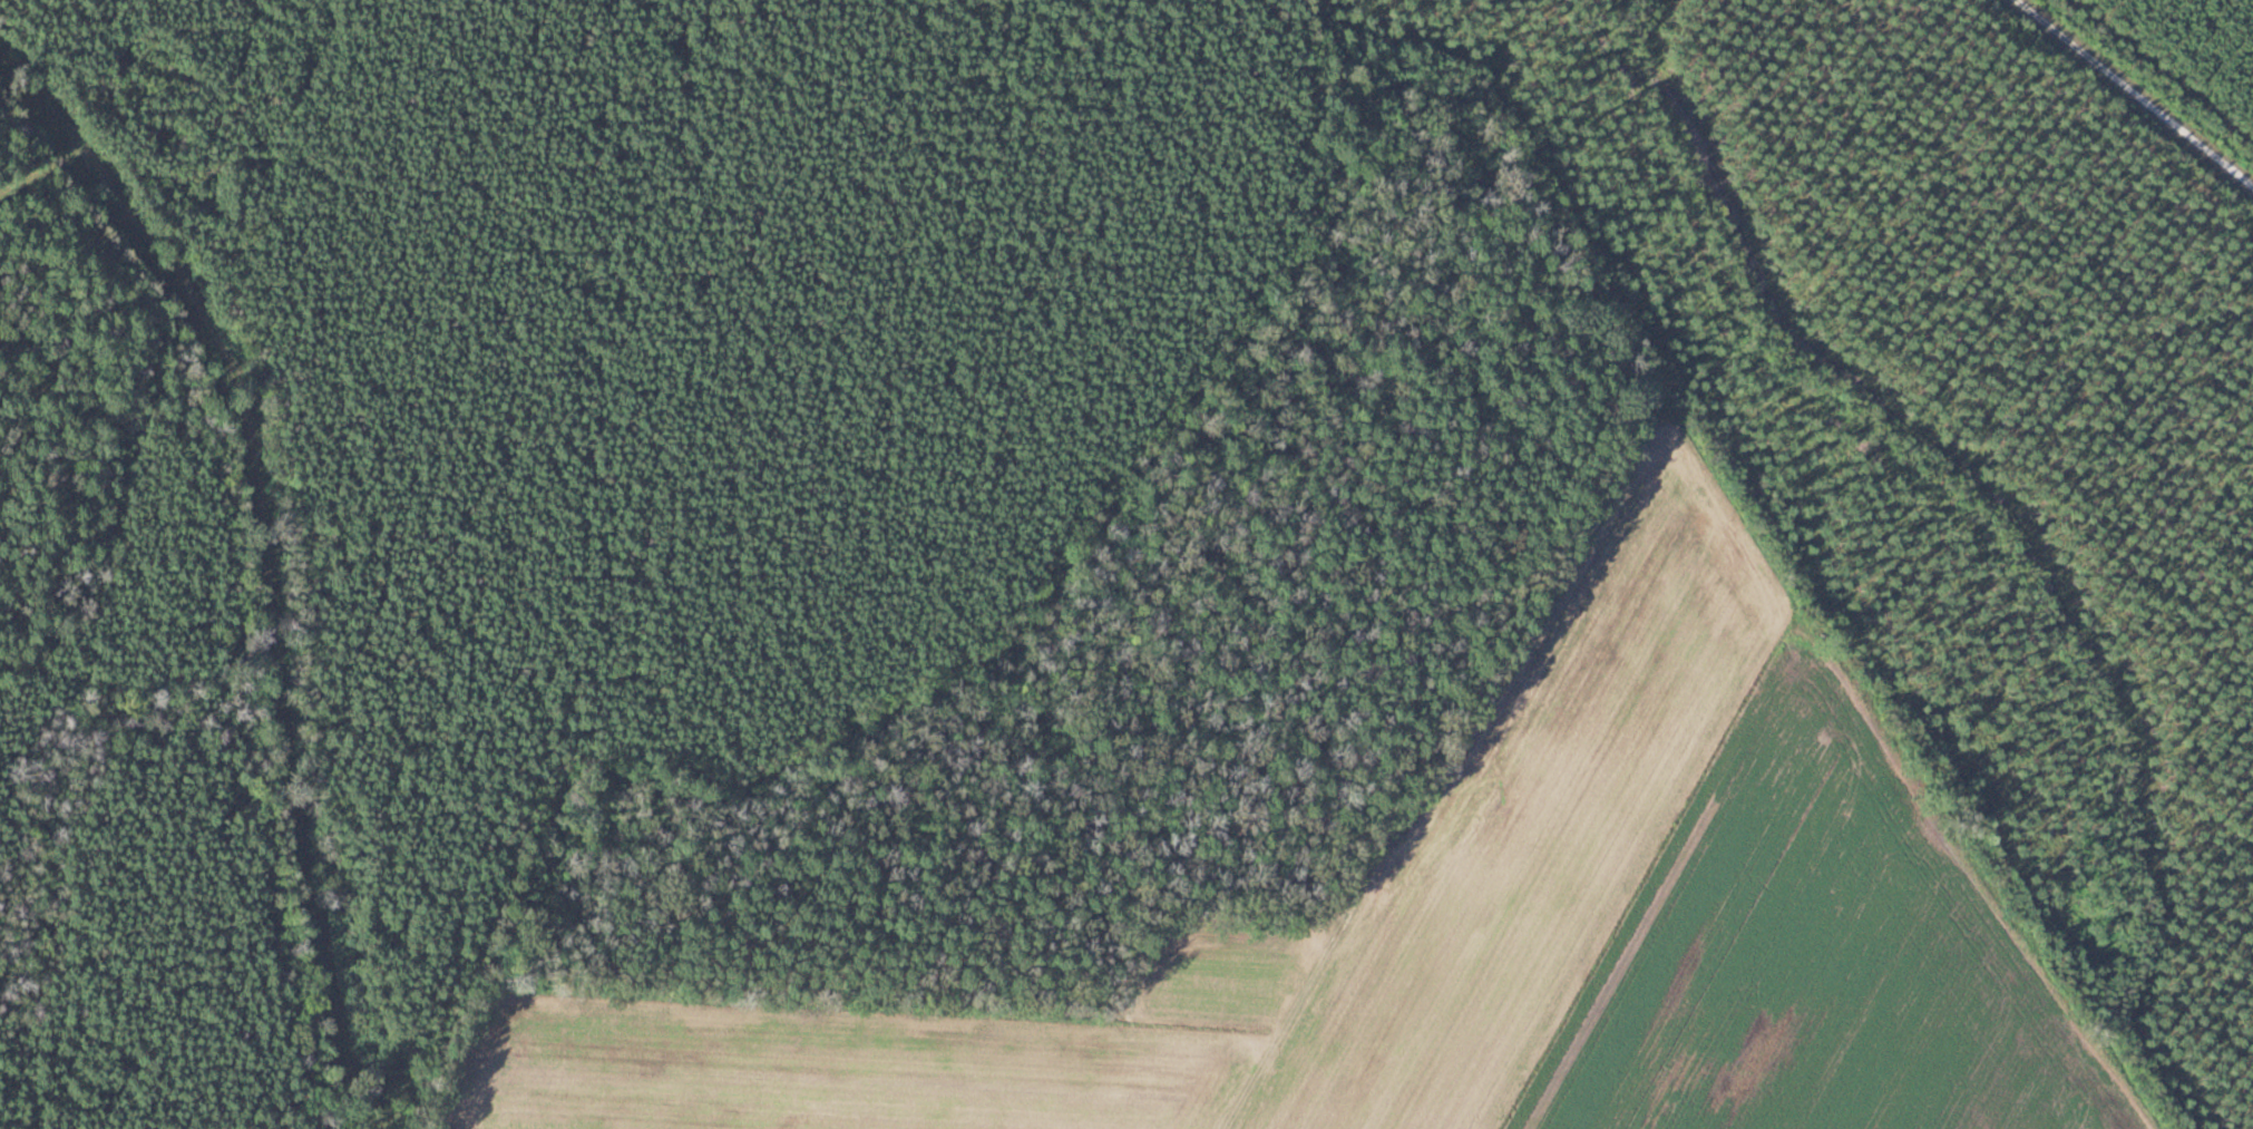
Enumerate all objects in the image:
road: (2152, 84)

